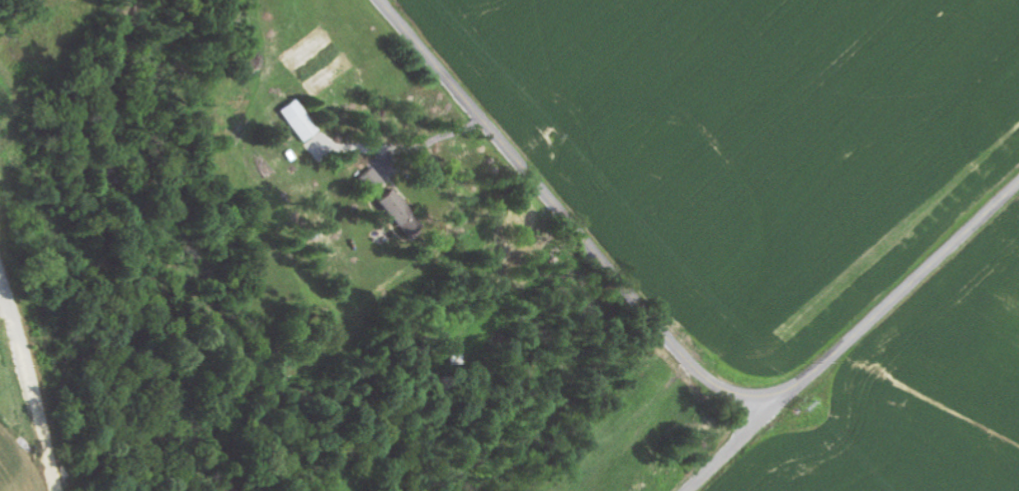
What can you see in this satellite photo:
building: (303, 121)
building: (400, 209)
road: (670, 340)
road: (733, 446)

